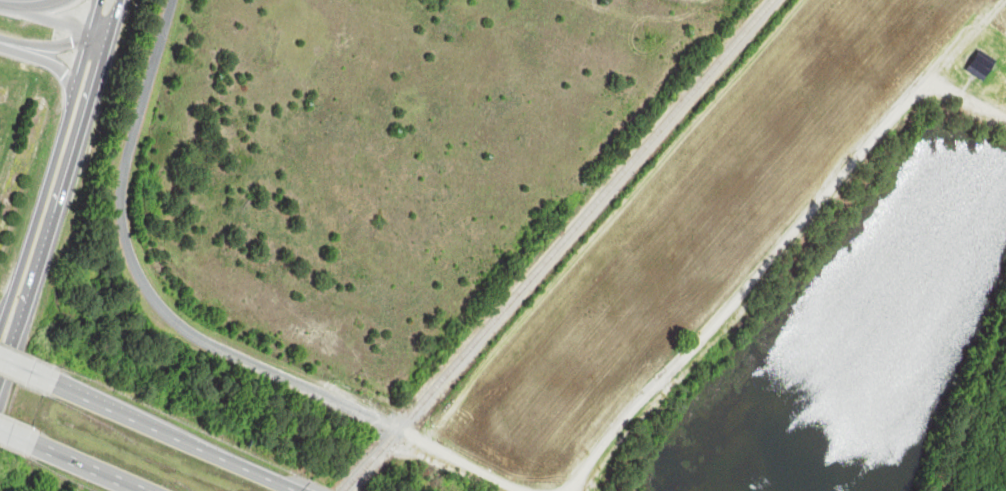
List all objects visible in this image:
road: (52, 15)
road: (45, 53)
road: (55, 186)
railway: (552, 246)
road: (135, 267)
road: (19, 358)
road: (6, 424)
road: (171, 428)
road: (85, 459)
road: (306, 490)

